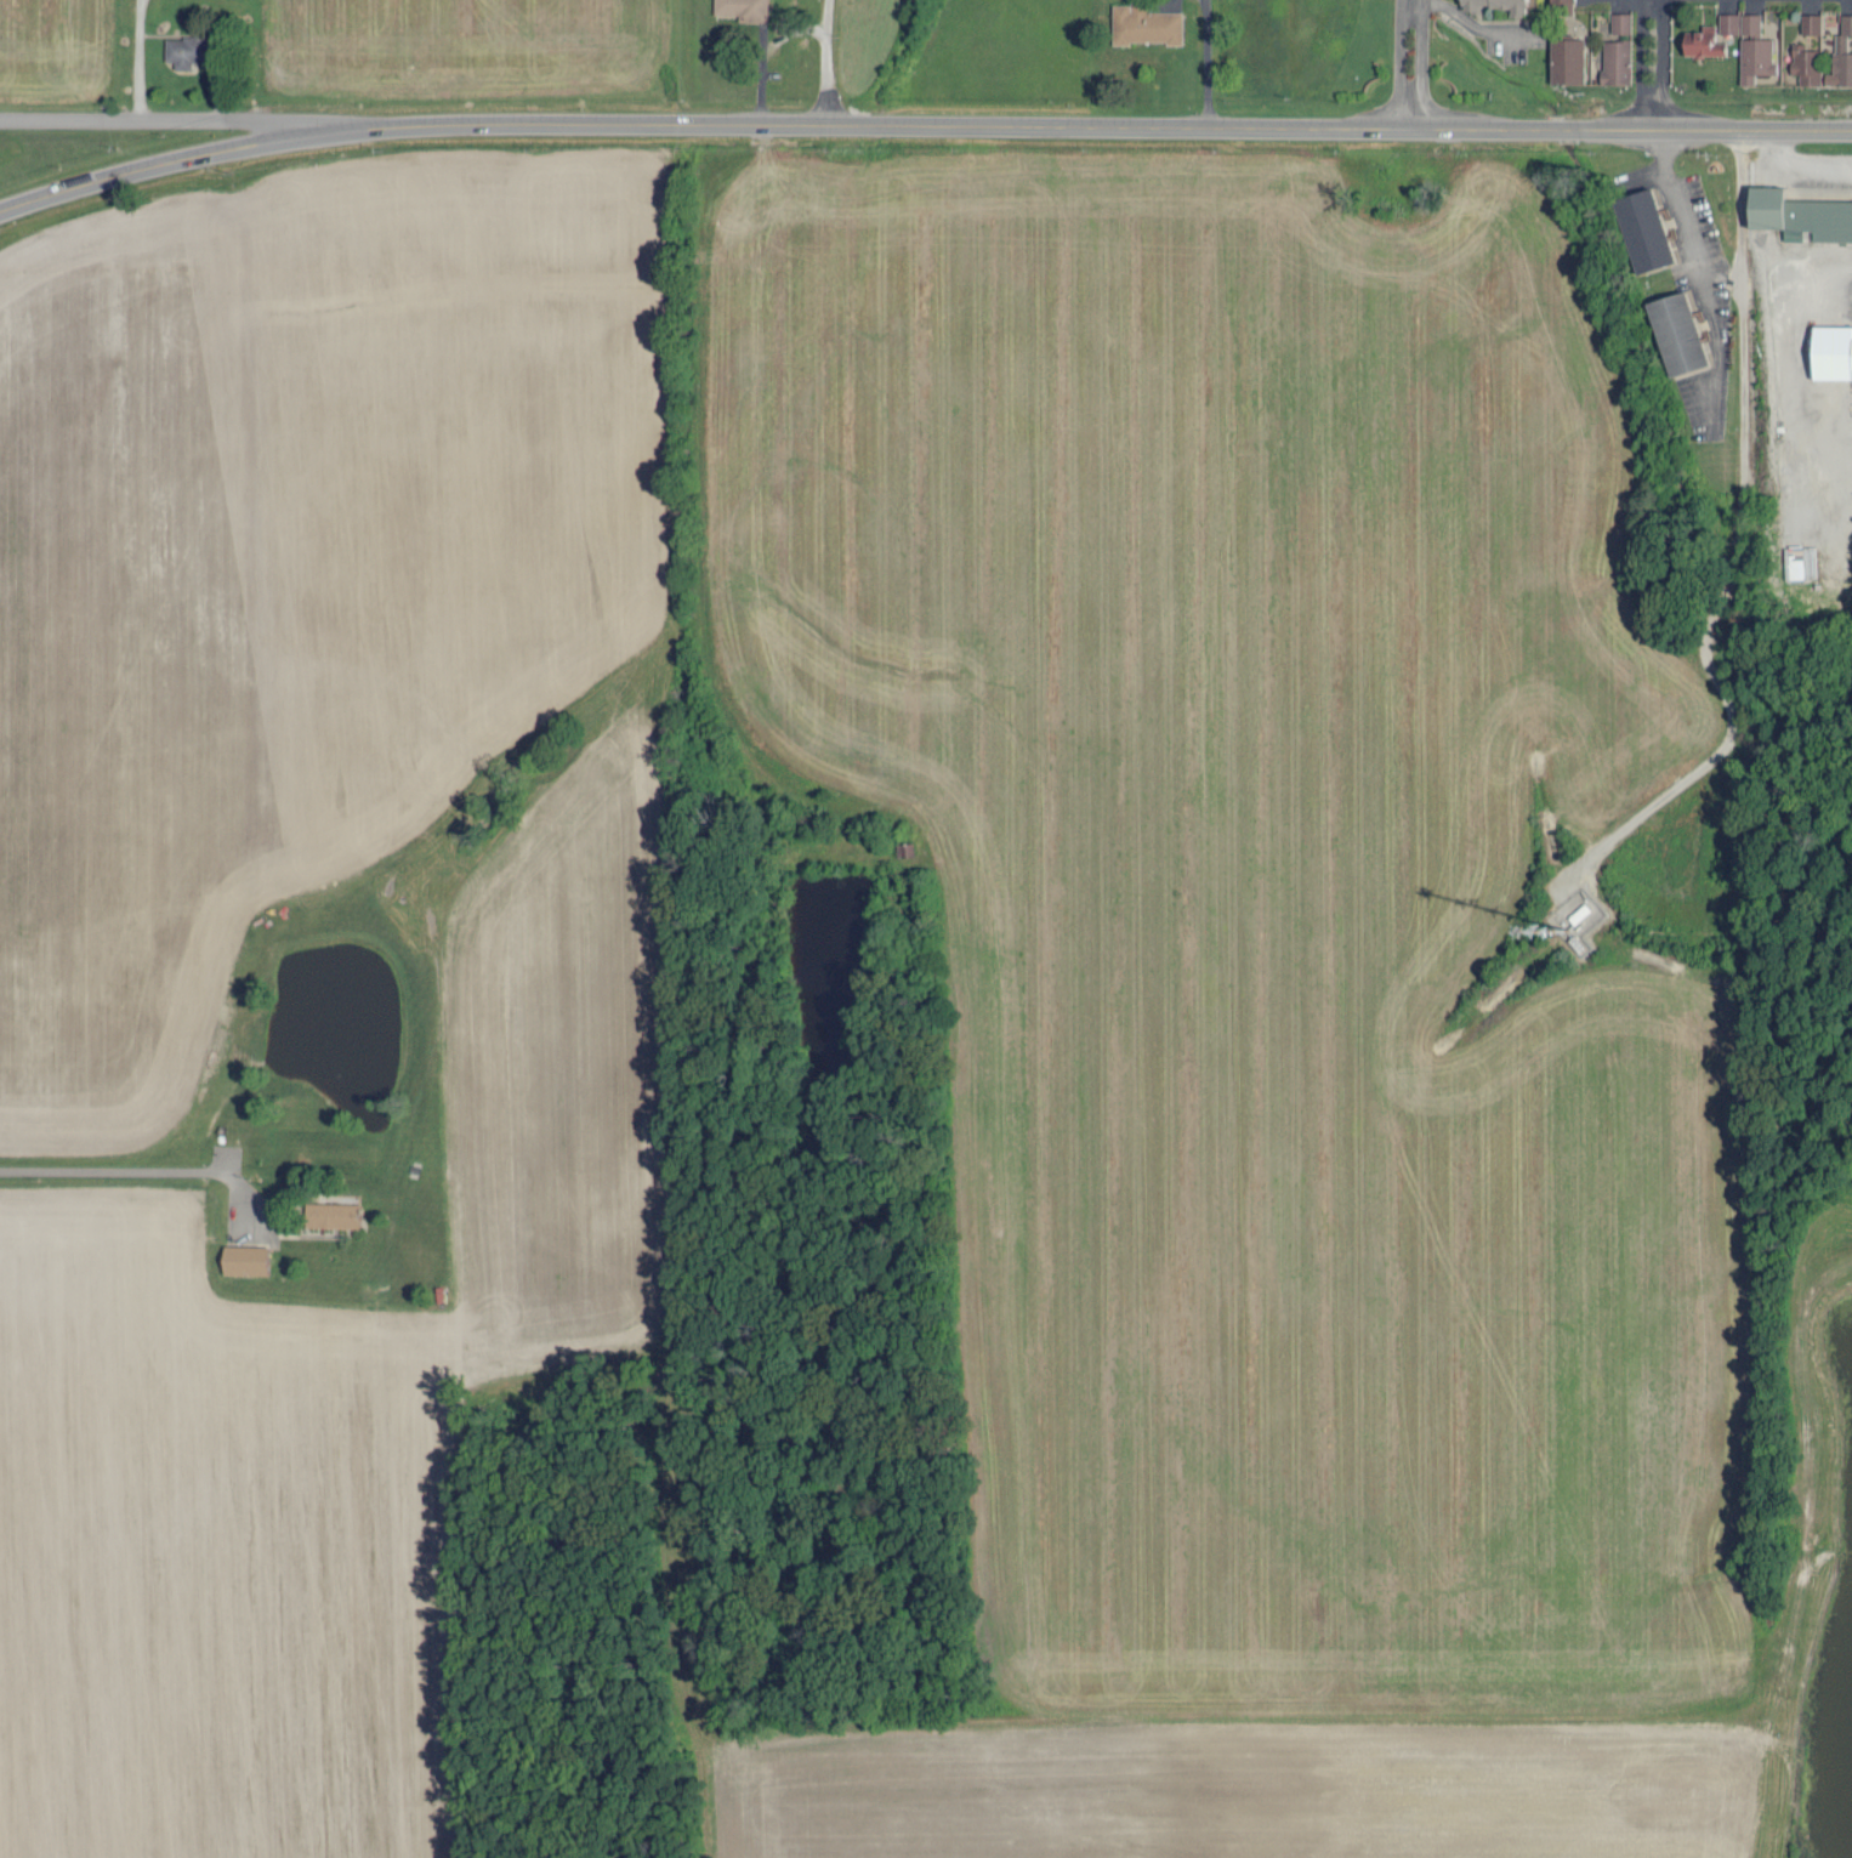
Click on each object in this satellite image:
building: (1494, 5)
building: (742, 8)
building: (1619, 21)
building: (1728, 21)
building: (1810, 22)
building: (1143, 23)
road: (1475, 24)
building: (1702, 40)
building: (184, 49)
building: (1752, 49)
building: (1566, 59)
building: (1614, 61)
road: (825, 62)
road: (1398, 62)
road: (1419, 62)
road: (1641, 62)
road: (1657, 62)
building: (1805, 62)
road: (153, 120)
road: (664, 123)
road: (1216, 125)
road: (1631, 125)
road: (152, 167)
road: (1677, 210)
building: (1799, 214)
building: (1642, 229)
building: (1676, 333)
building: (1831, 351)
building: (1803, 559)
road: (101, 1181)
building: (330, 1212)
building: (243, 1257)

